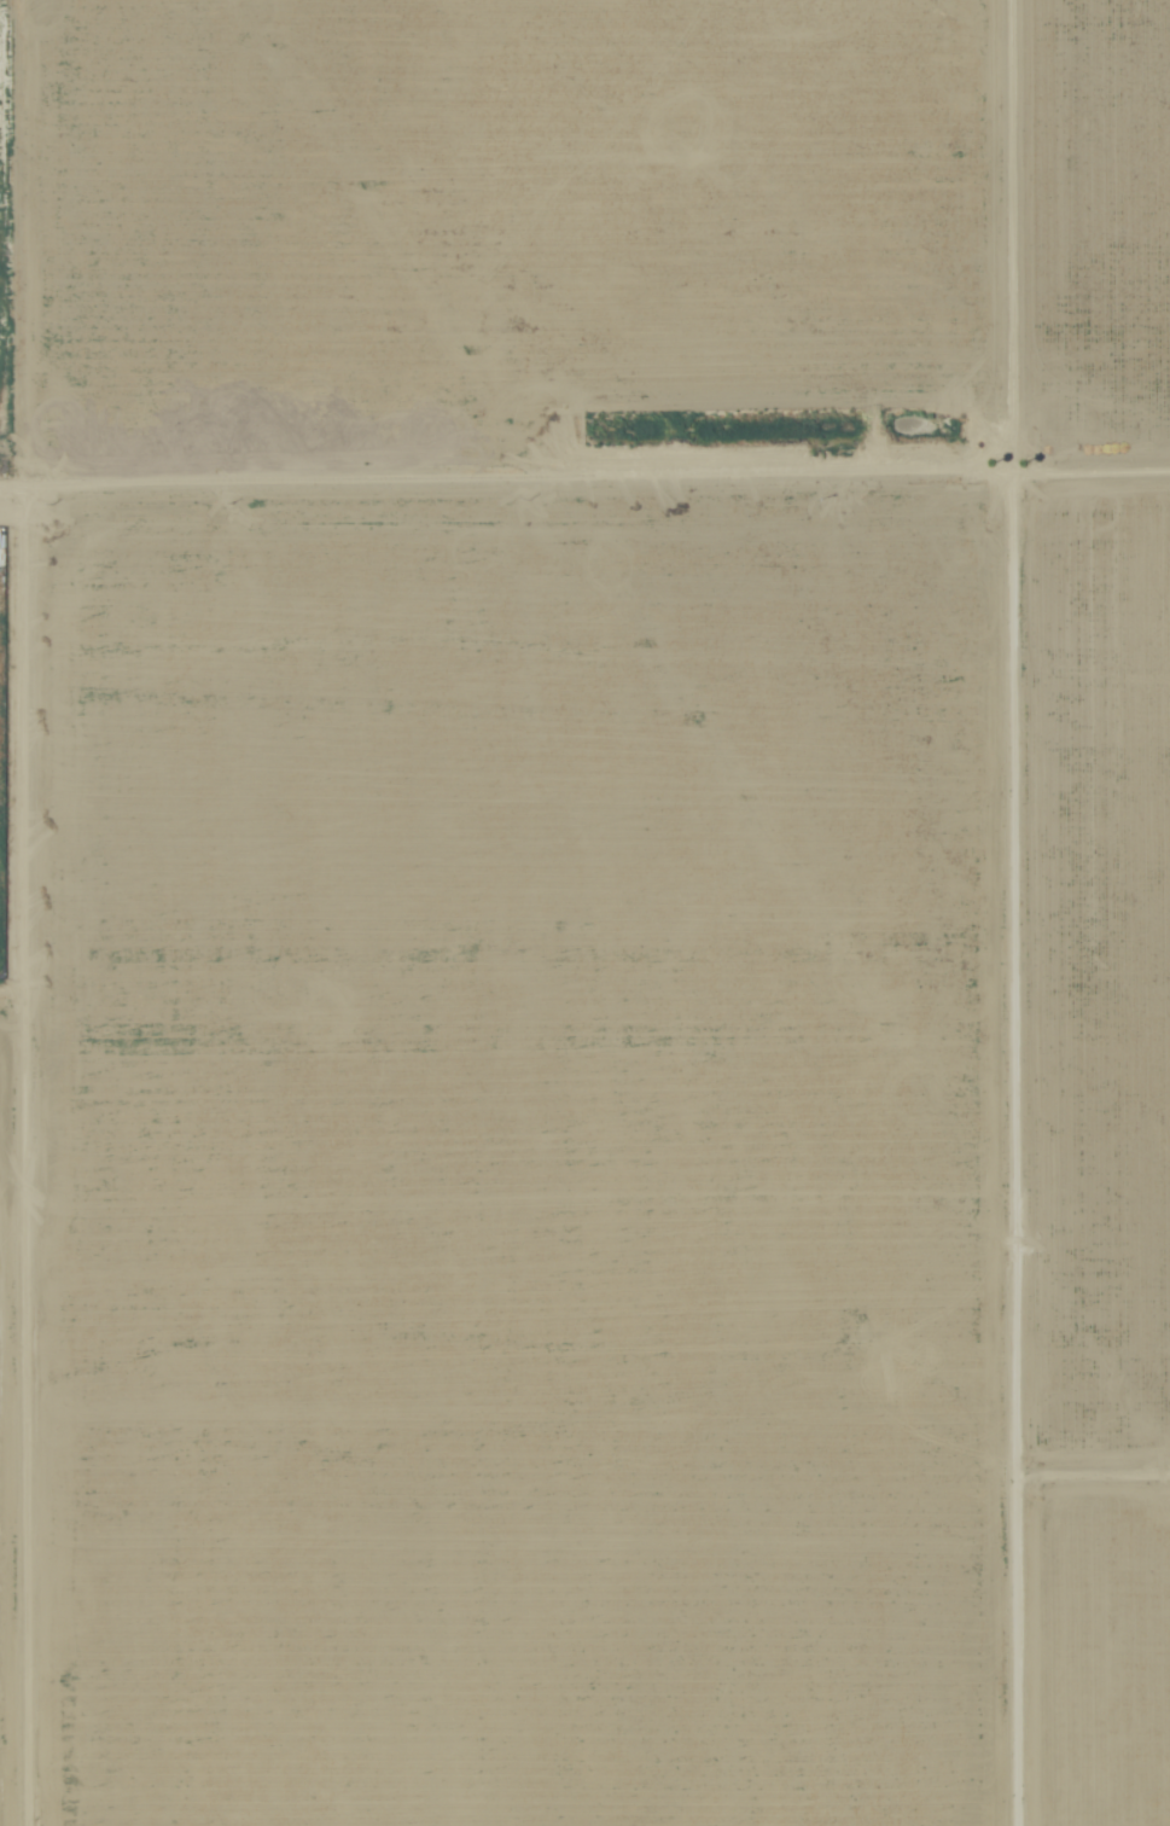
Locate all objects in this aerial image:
building: (266, 1640)

